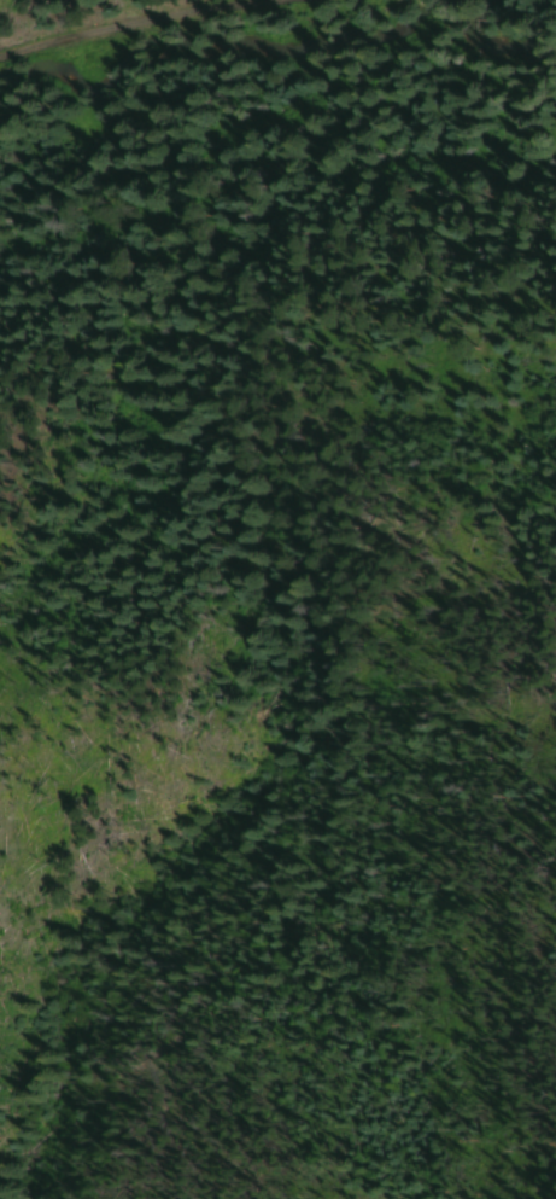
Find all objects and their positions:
road: (130, 23)
river: (322, 58)

